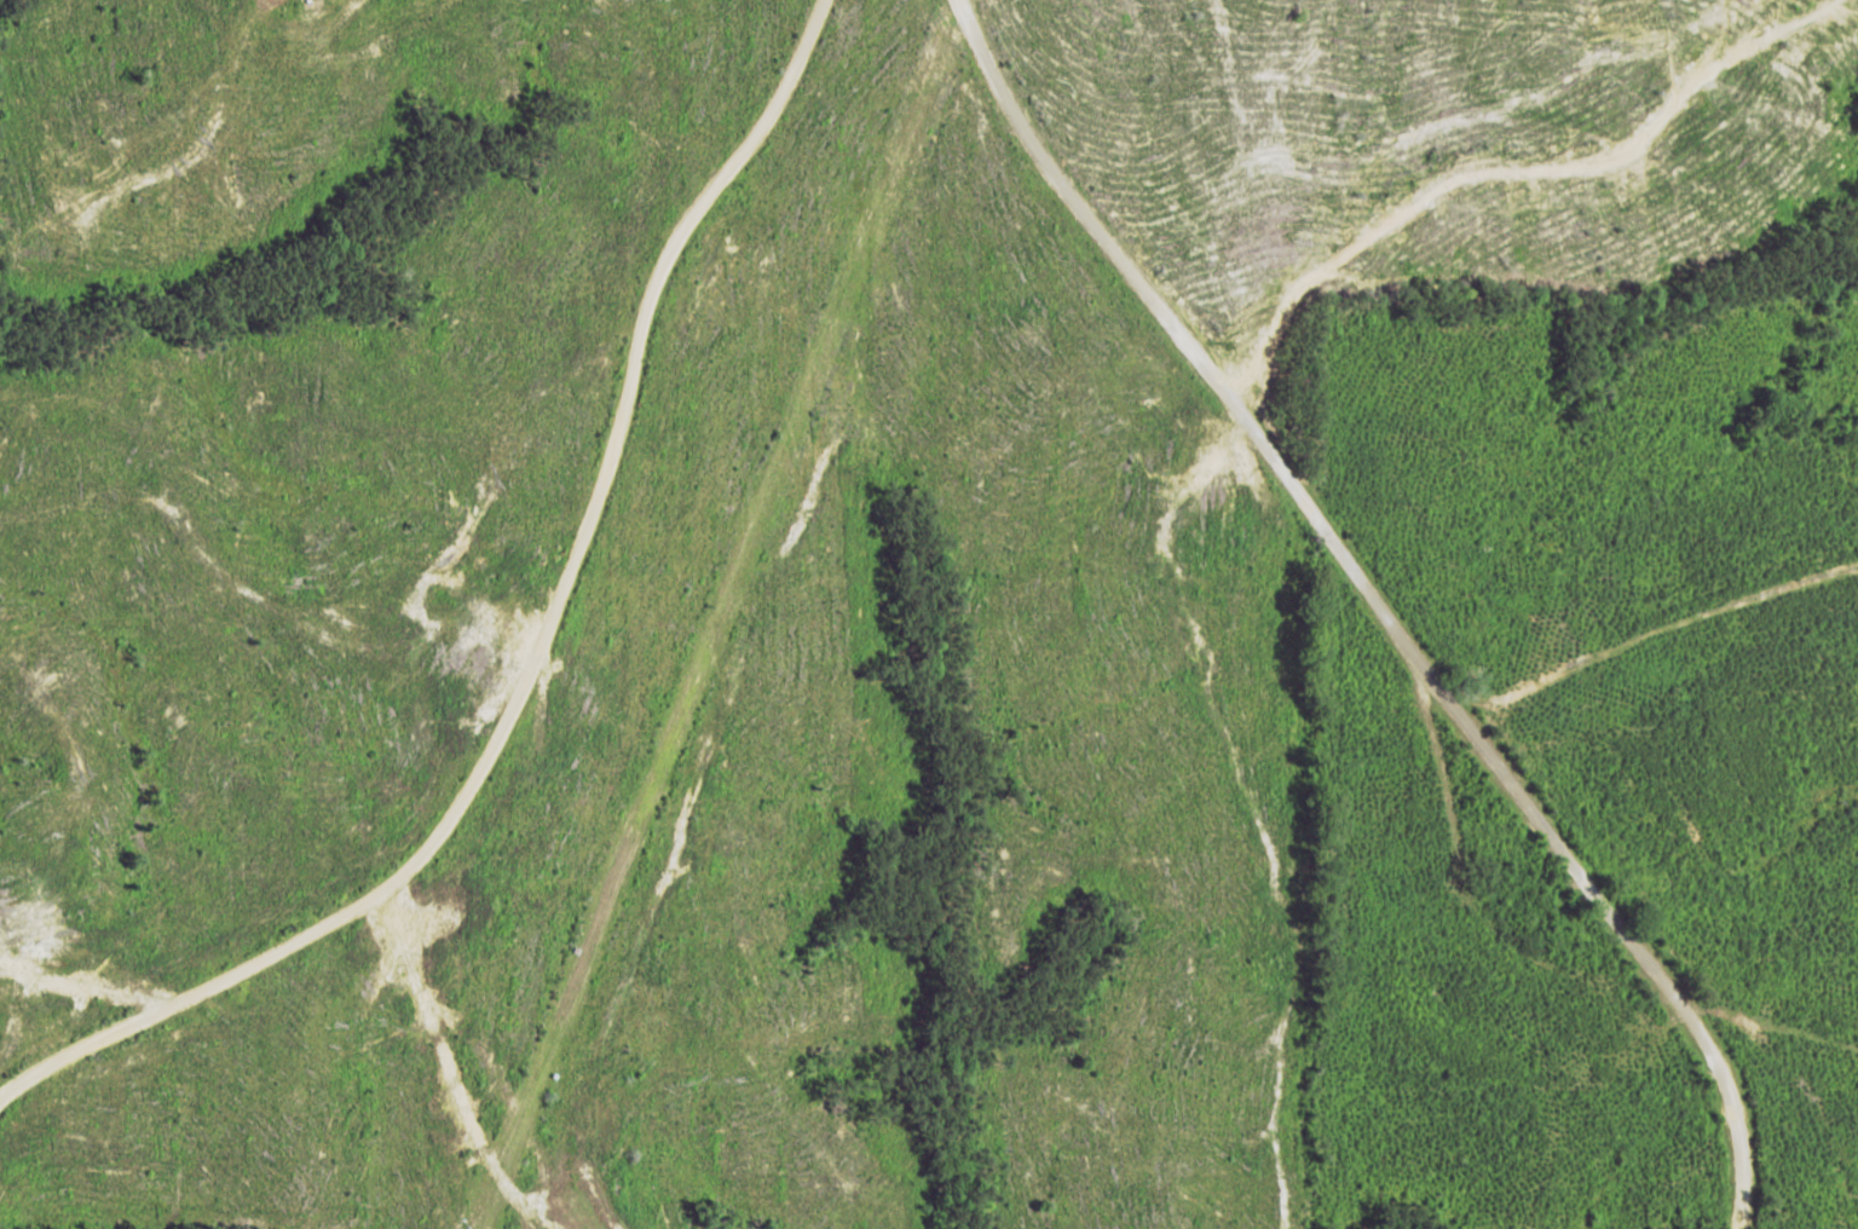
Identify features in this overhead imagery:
road: (1346, 607)
road: (550, 679)

